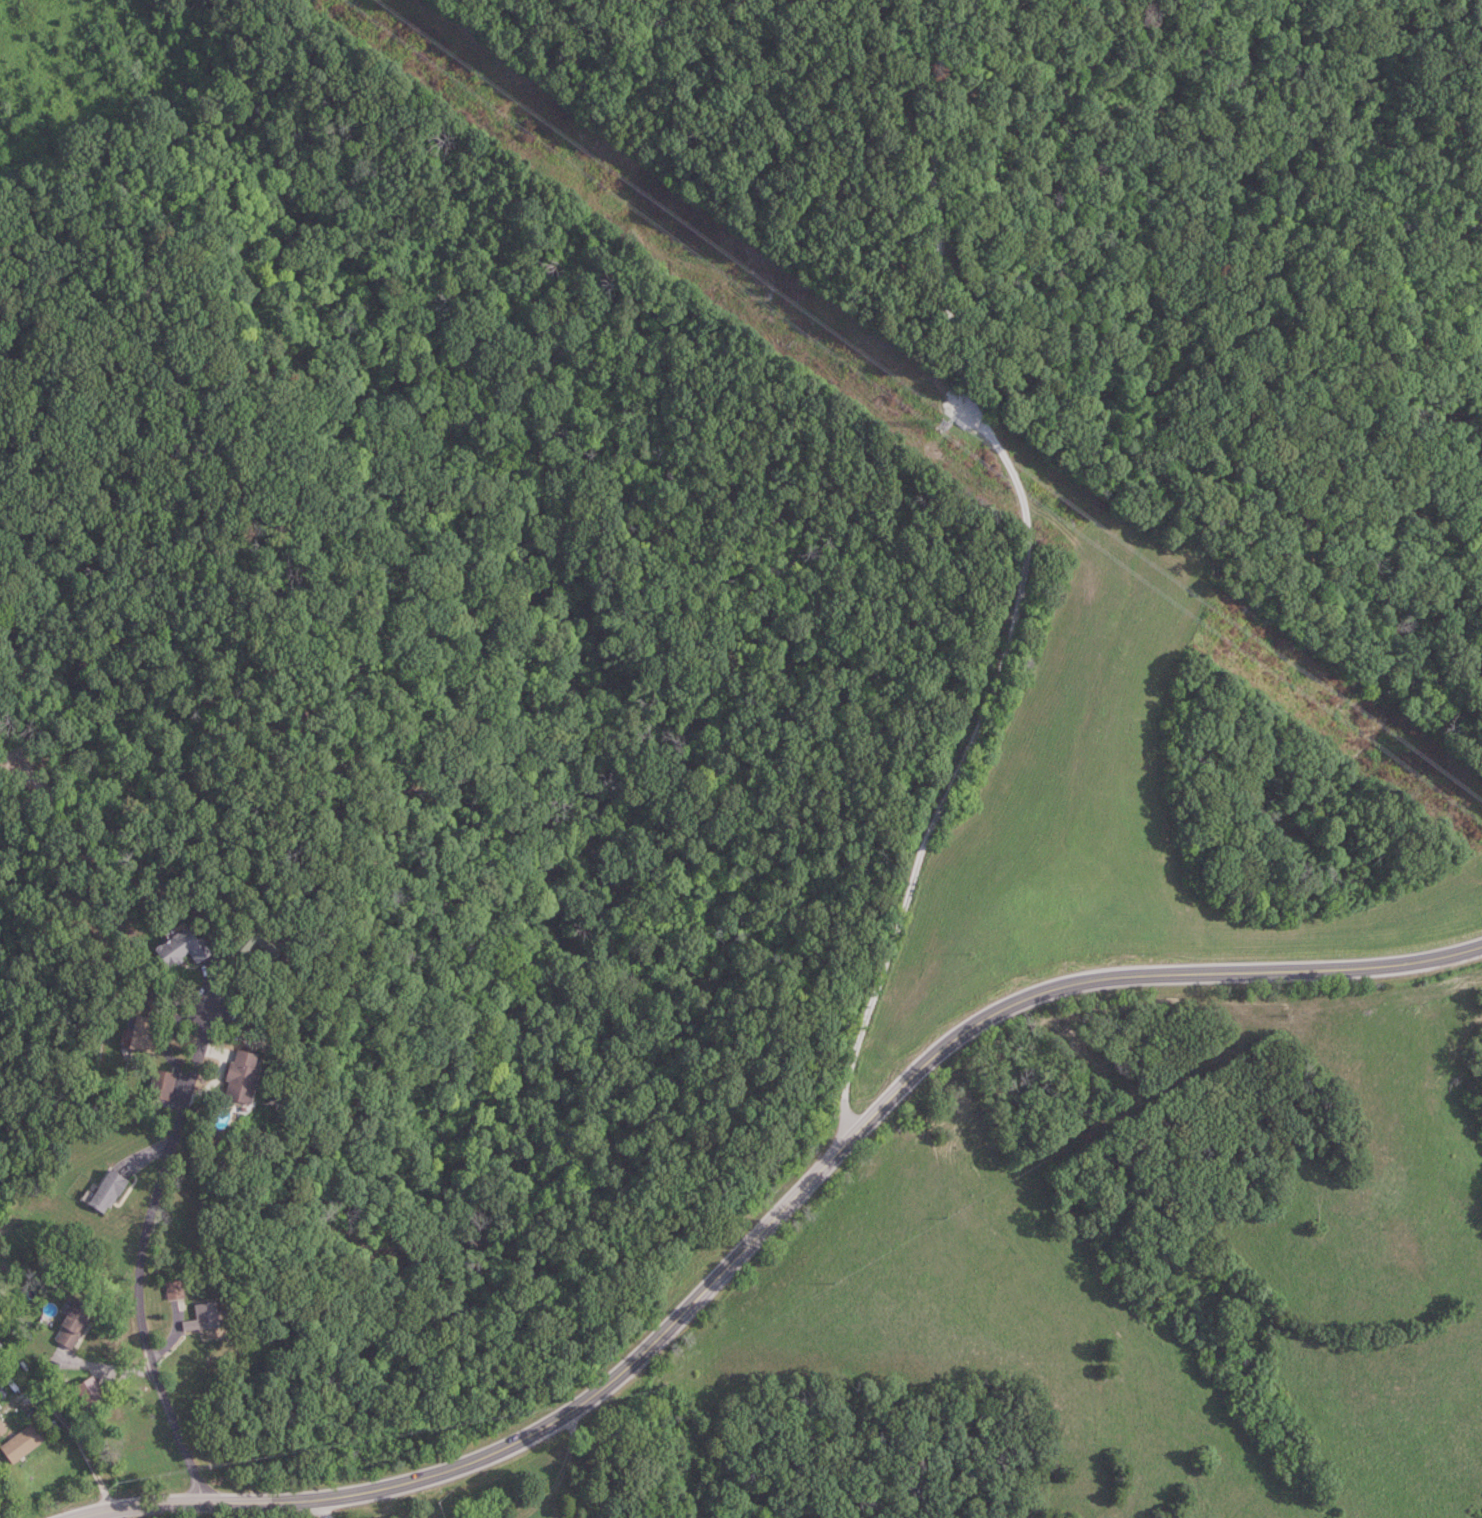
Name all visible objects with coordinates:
power tower: (945, 429)
road: (1022, 568)
building: (261, 944)
building: (186, 947)
building: (146, 1034)
building: (244, 1076)
building: (163, 1084)
building: (109, 1191)
road: (773, 1217)
road: (142, 1249)
building: (205, 1318)
building: (75, 1323)
building: (1, 1419)
building: (2, 1429)
building: (24, 1435)
road: (83, 1440)
road: (558, 1476)
road: (326, 1510)
road: (329, 1515)

